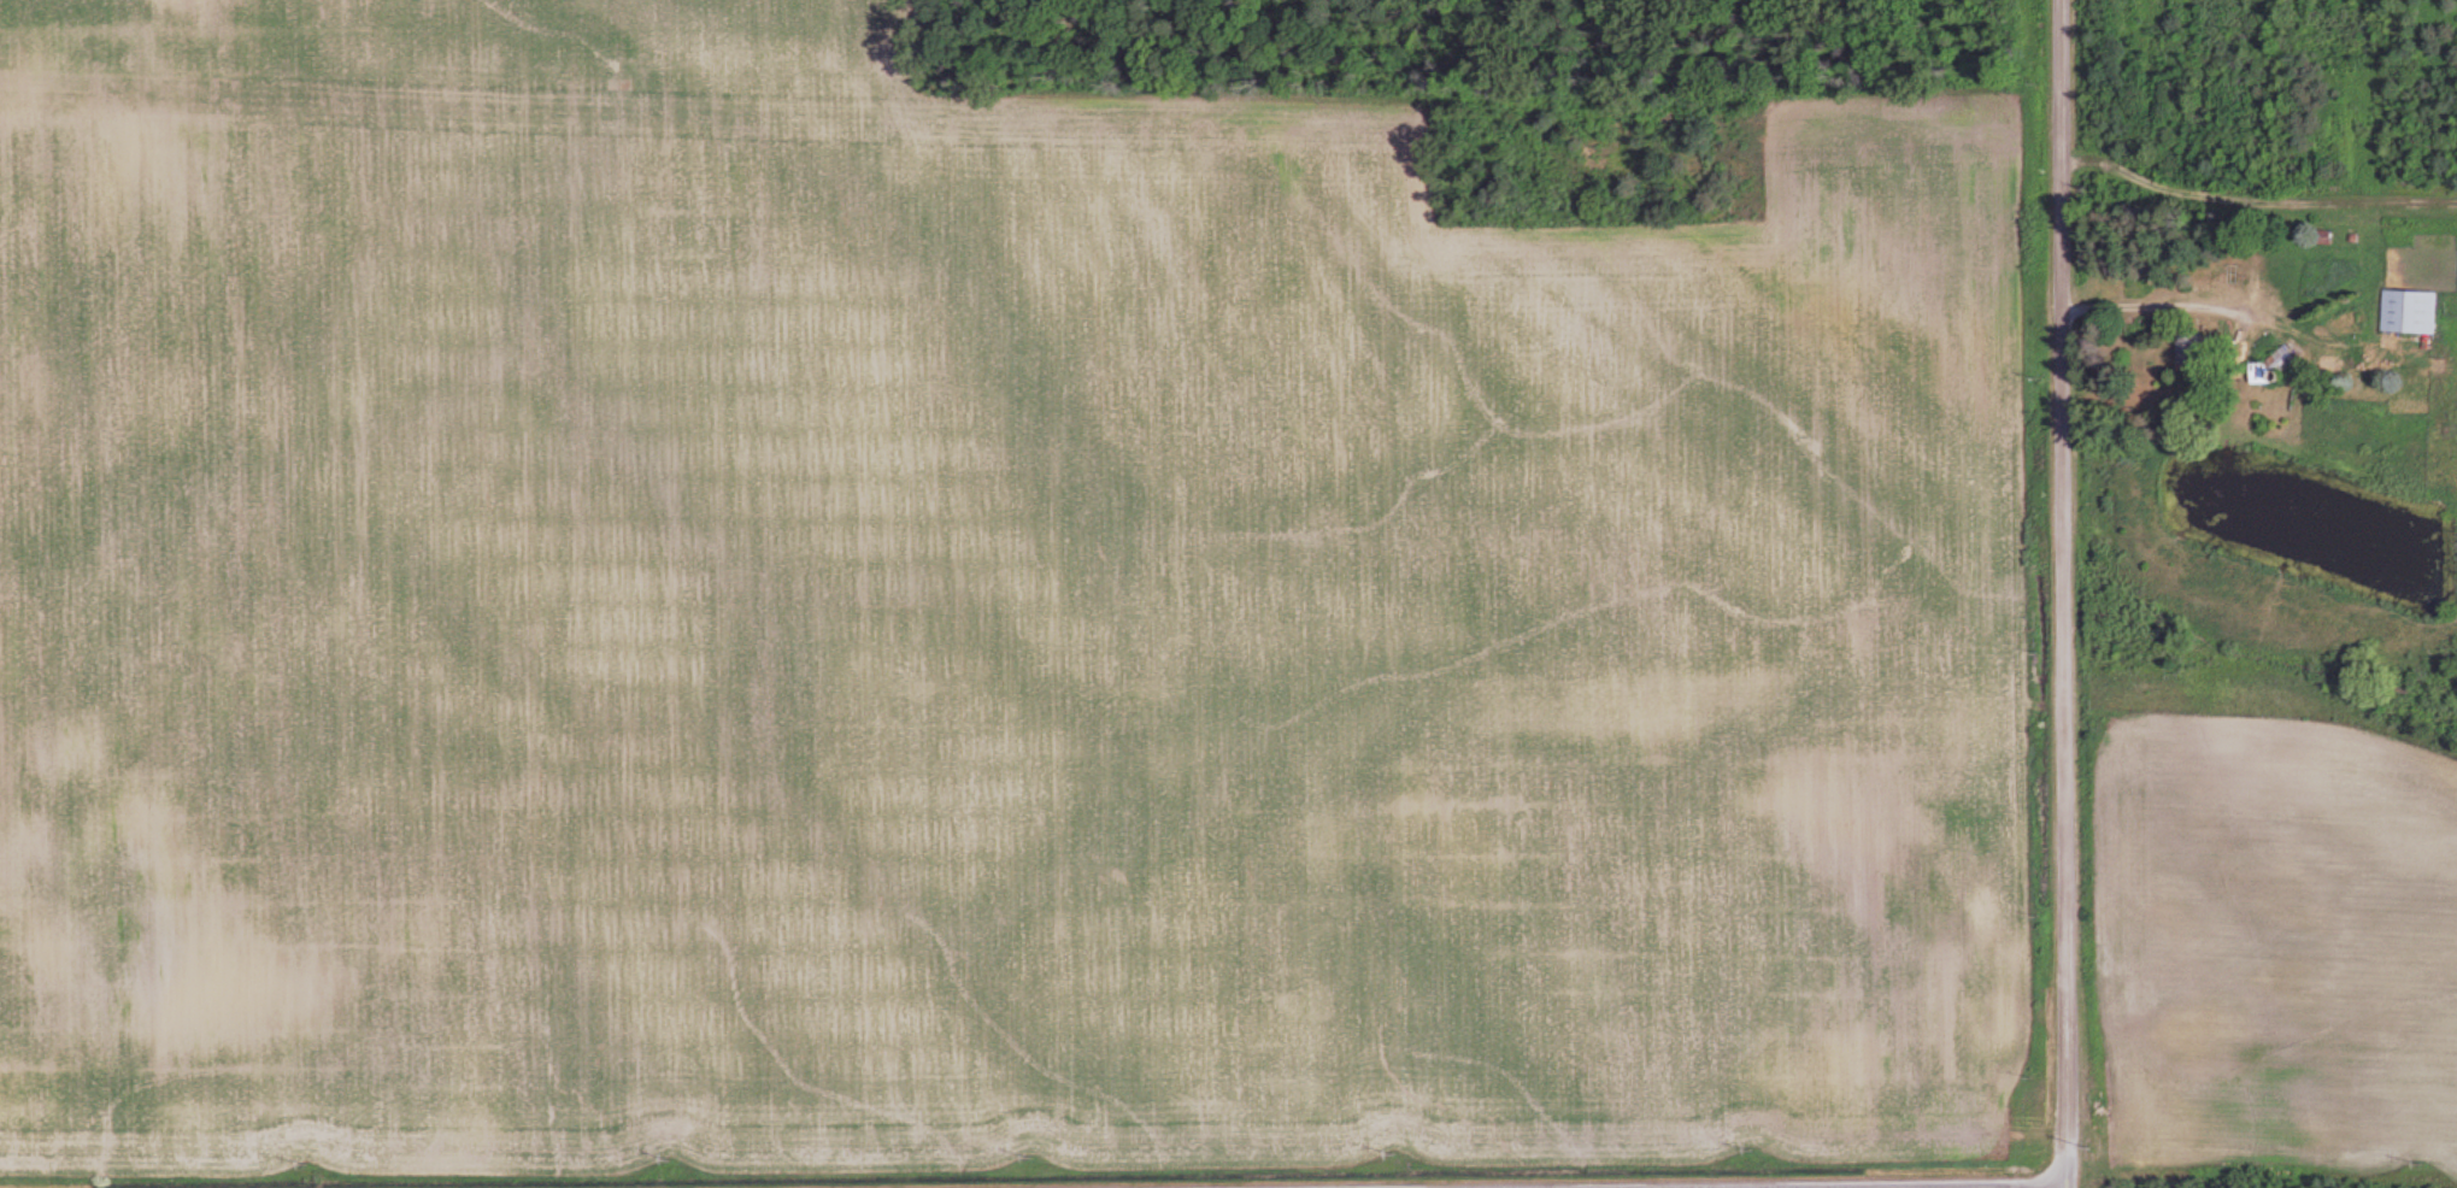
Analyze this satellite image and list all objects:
building: (2403, 310)
building: (2183, 347)
building: (2264, 364)
road: (2058, 594)

